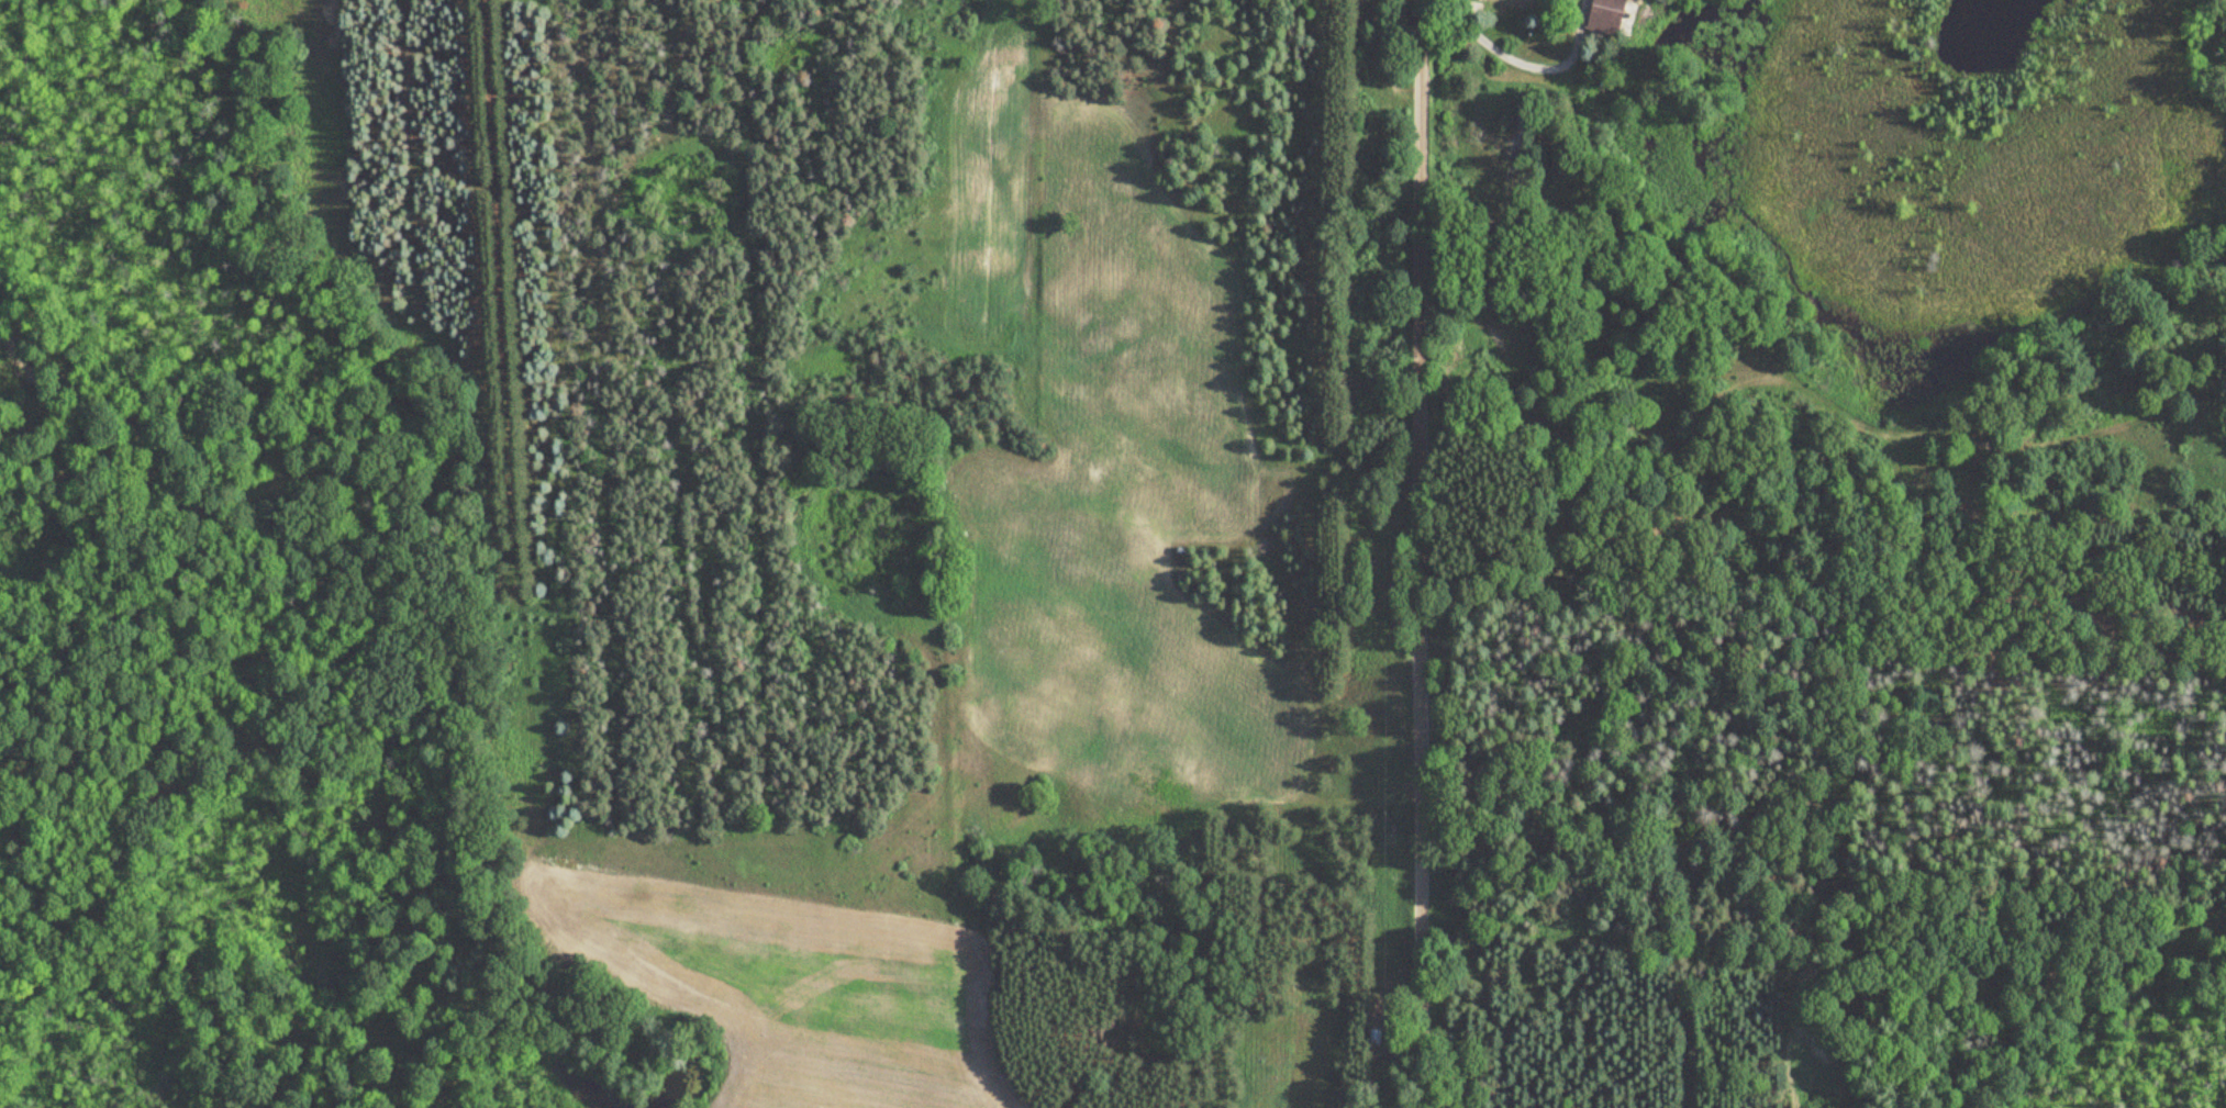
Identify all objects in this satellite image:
building: (1606, 16)
road: (1428, 553)

